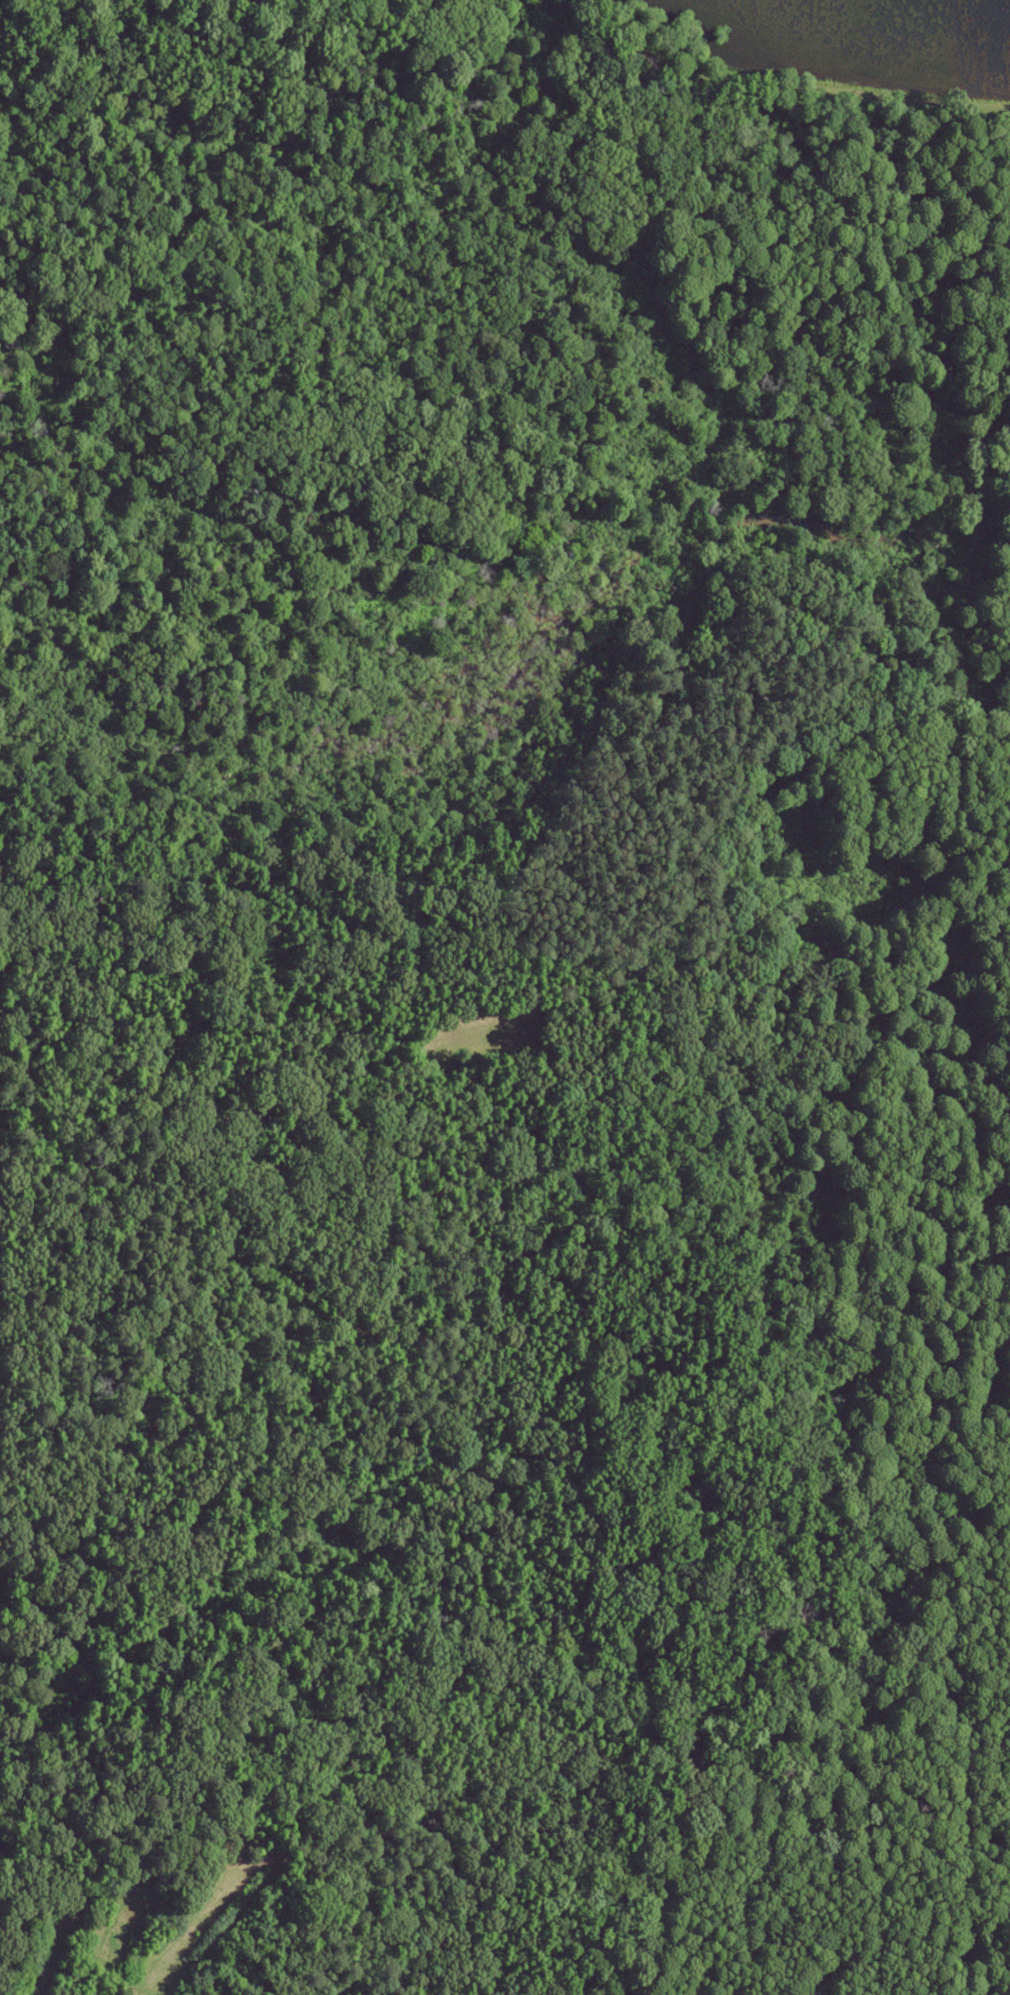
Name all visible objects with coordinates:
road: (785, 90)
park: (587, 746)

